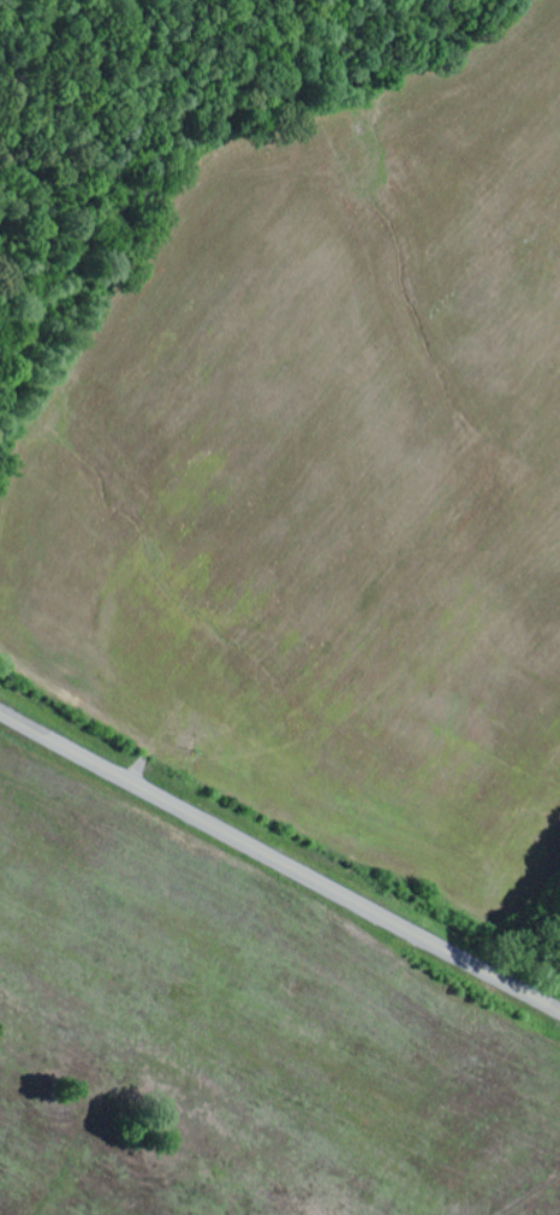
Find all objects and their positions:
road: (279, 861)

